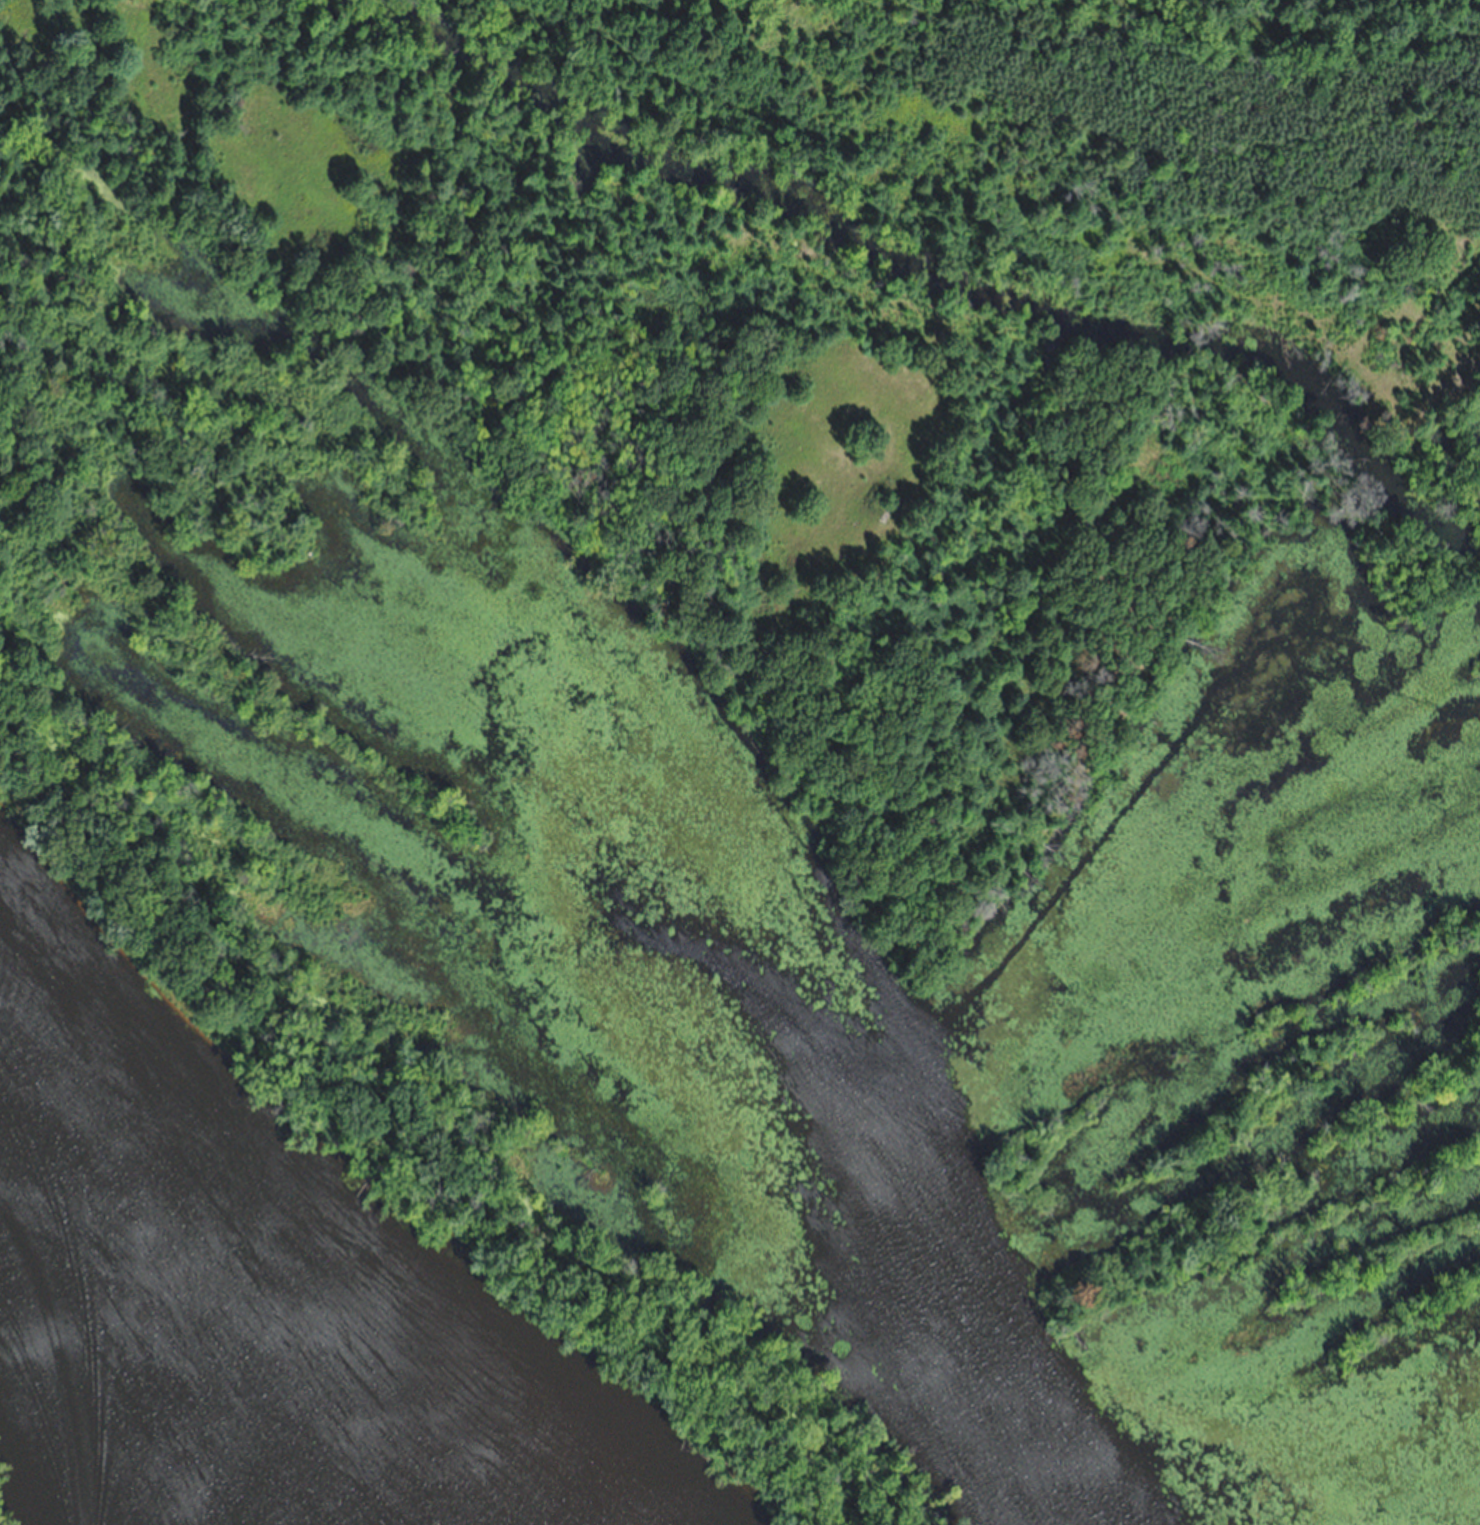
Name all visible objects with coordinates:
river: (136, 1292)

